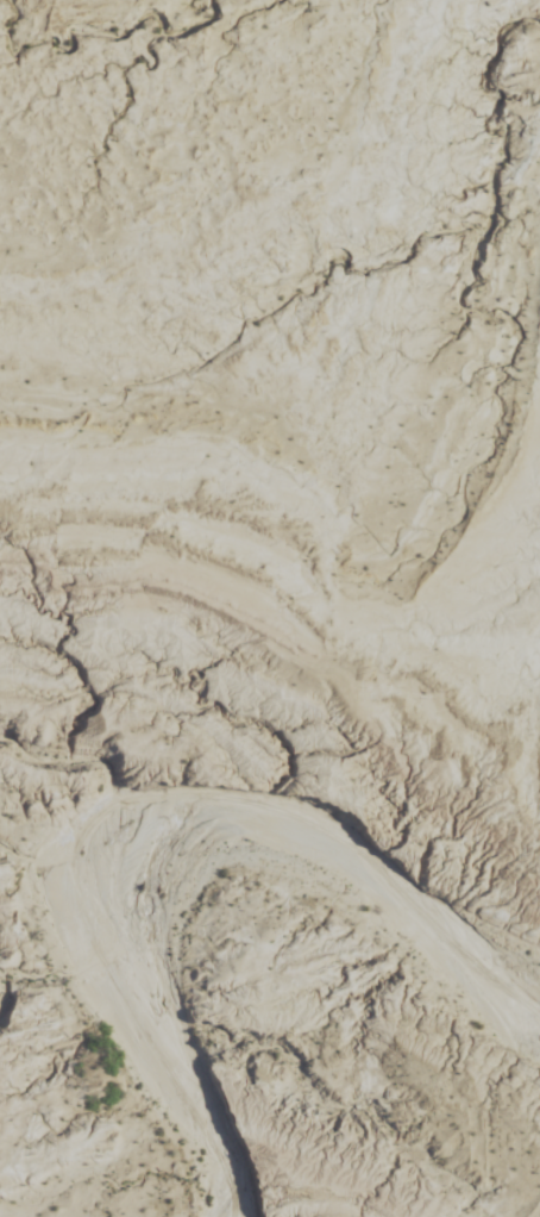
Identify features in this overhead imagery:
road: (133, 800)

